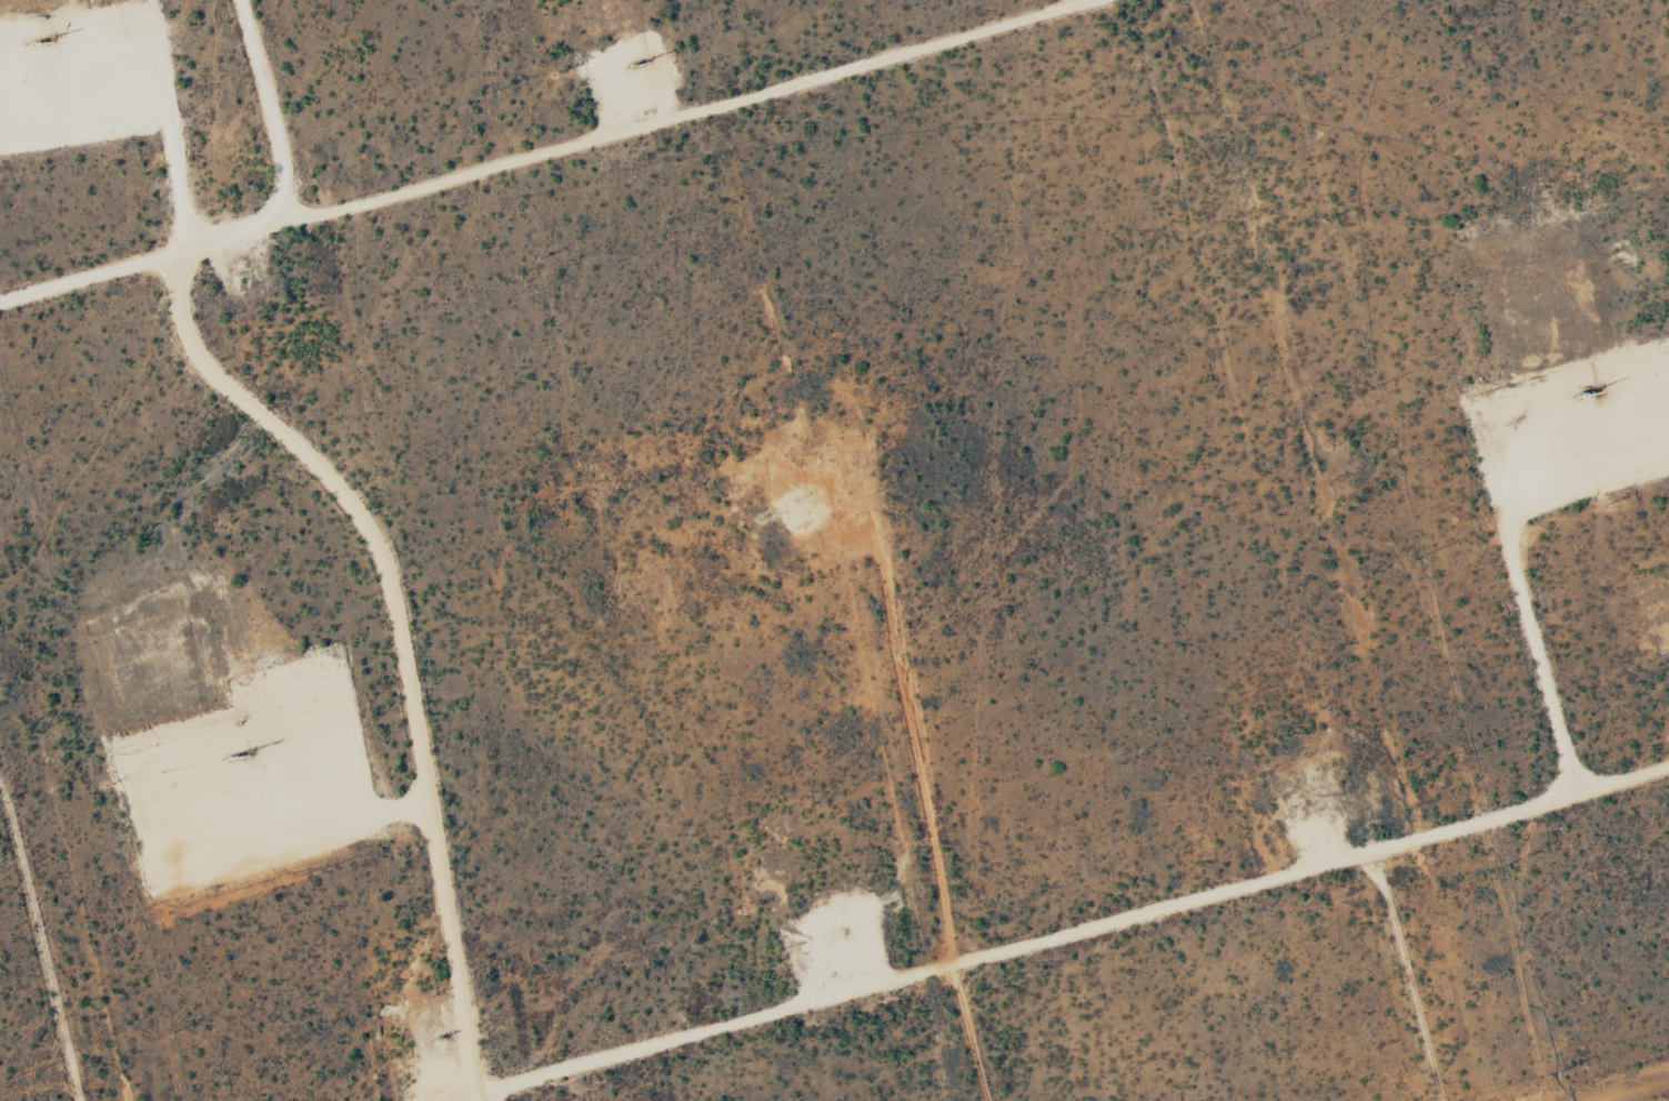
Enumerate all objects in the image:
road: (296, 101)
road: (523, 147)
road: (400, 647)
road: (886, 1015)

